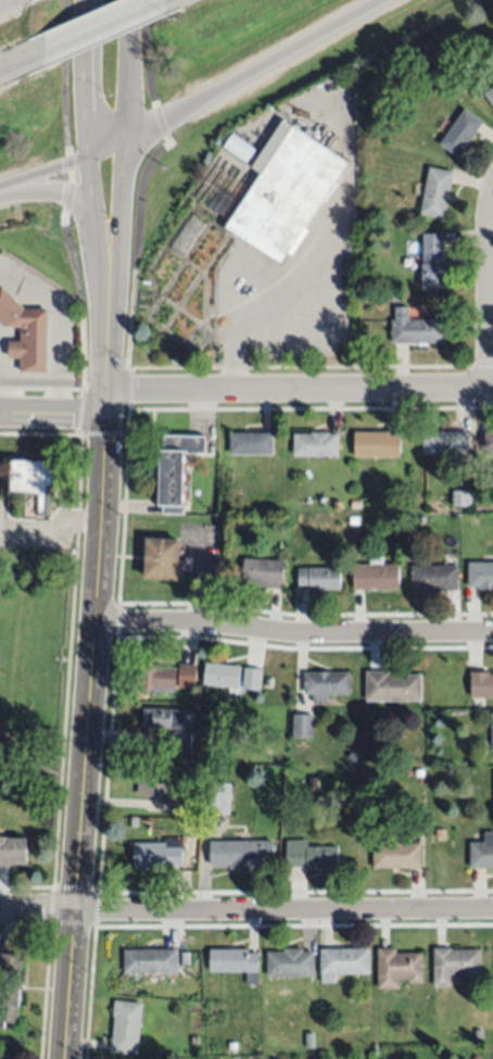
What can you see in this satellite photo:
road: (4, 2)
road: (105, 29)
road: (21, 68)
road: (128, 68)
road: (248, 70)
road: (84, 78)
building: (490, 94)
building: (462, 133)
road: (105, 148)
building: (240, 148)
road: (68, 155)
road: (42, 174)
road: (142, 177)
building: (283, 191)
building: (437, 192)
road: (71, 202)
road: (114, 248)
road: (97, 256)
building: (432, 261)
building: (374, 278)
road: (488, 291)
building: (397, 298)
building: (416, 327)
road: (56, 330)
building: (25, 332)
road: (81, 349)
road: (481, 366)
road: (296, 367)
road: (298, 389)
road: (3, 393)
road: (52, 414)
building: (445, 442)
building: (488, 442)
building: (251, 443)
building: (315, 444)
building: (377, 444)
building: (175, 470)
building: (33, 486)
building: (460, 497)
building: (486, 503)
building: (337, 507)
building: (353, 518)
building: (238, 524)
building: (161, 557)
building: (263, 572)
building: (375, 575)
building: (480, 575)
building: (434, 578)
building: (319, 579)
road: (293, 633)
building: (222, 675)
building: (187, 676)
park: (34, 677)
building: (155, 677)
building: (251, 679)
building: (325, 684)
building: (481, 684)
building: (392, 686)
road: (87, 708)
road: (111, 713)
building: (165, 718)
road: (64, 722)
building: (303, 726)
building: (492, 735)
building: (182, 742)
building: (316, 761)
building: (152, 782)
building: (313, 782)
building: (217, 796)
building: (182, 802)
building: (193, 823)
building: (13, 849)
building: (481, 853)
building: (241, 854)
building: (396, 855)
building: (156, 856)
building: (311, 856)
road: (283, 909)
road: (37, 910)
building: (185, 958)
building: (151, 961)
building: (235, 962)
building: (343, 962)
building: (290, 963)
building: (455, 965)
building: (399, 968)
building: (10, 987)
building: (127, 1026)
building: (478, 1033)
building: (194, 1039)
building: (309, 1041)
building: (232, 1046)
building: (476, 1057)

